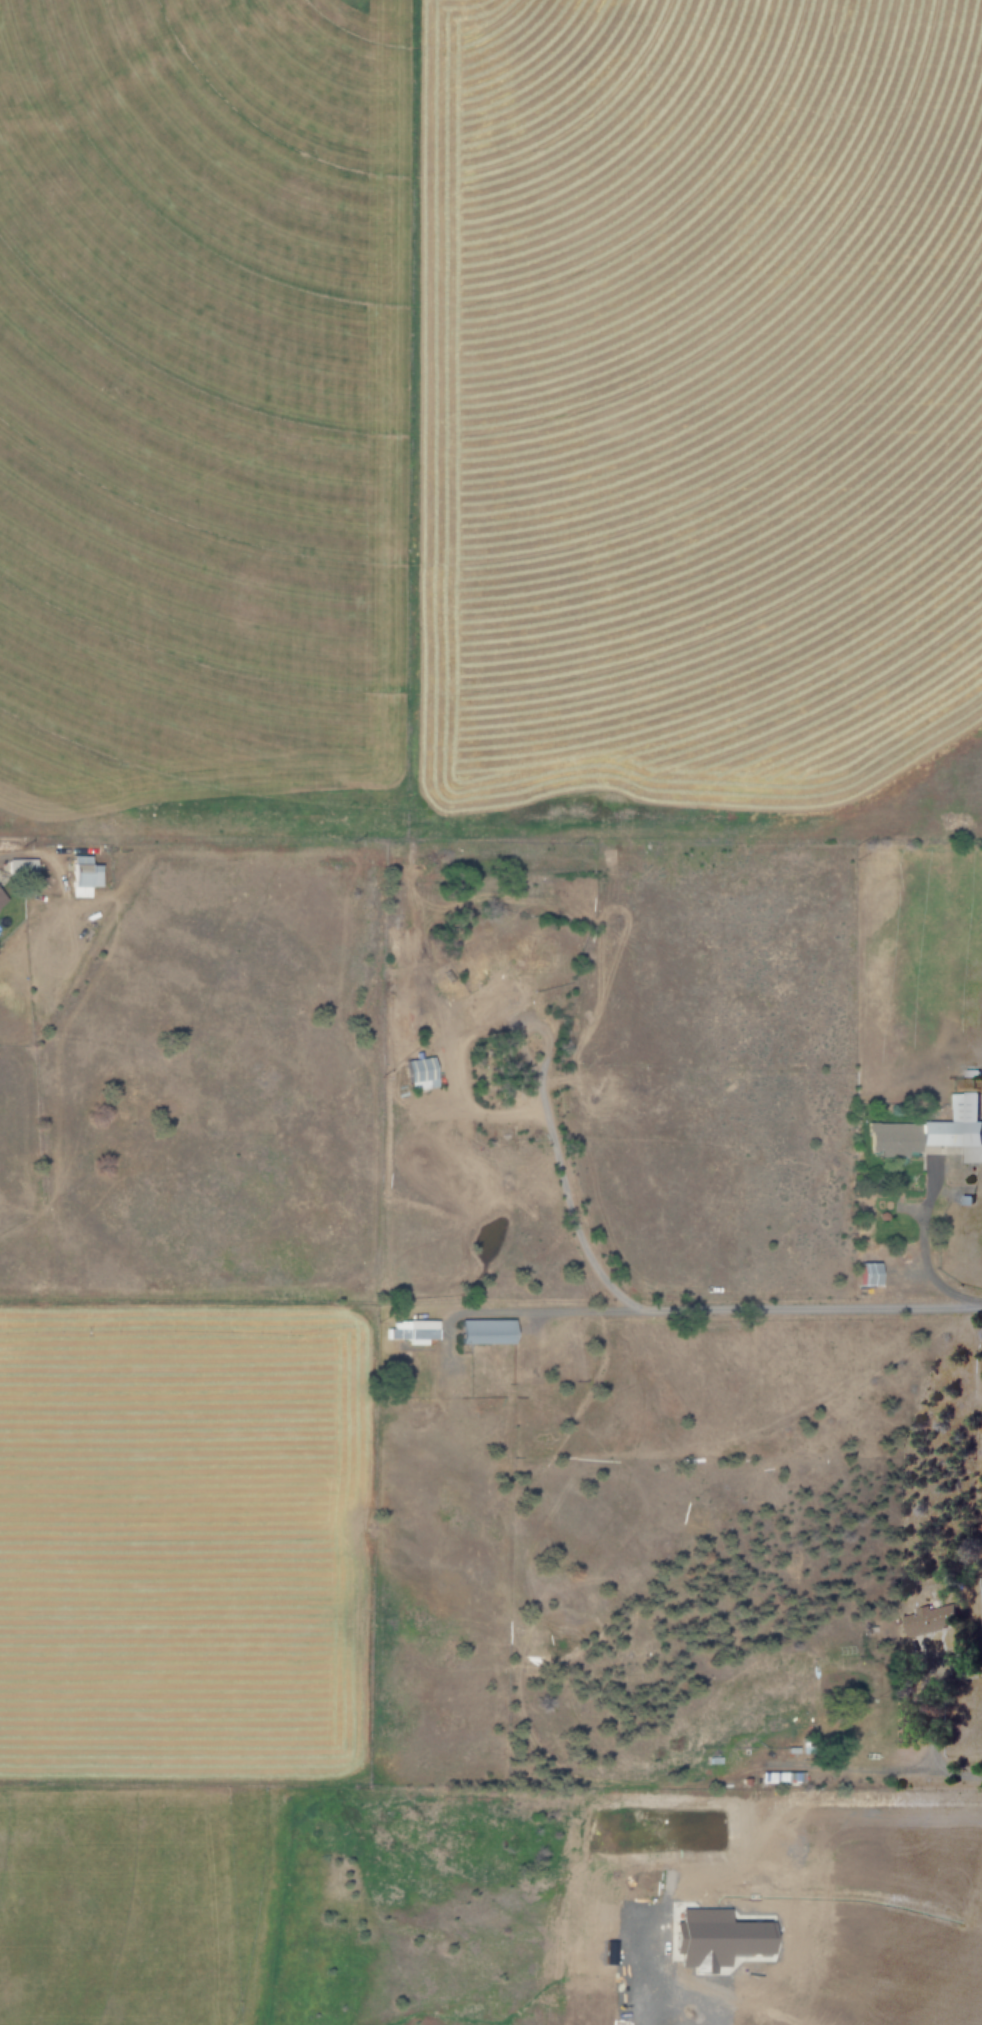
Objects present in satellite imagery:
crop: (479, 376)
building: (18, 868)
building: (79, 875)
building: (1, 898)
building: (495, 998)
building: (403, 1018)
building: (420, 1070)
building: (928, 1129)
building: (867, 1273)
road: (732, 1311)
building: (411, 1330)
building: (484, 1331)
building: (928, 1619)
building: (780, 1776)
building: (748, 1937)

